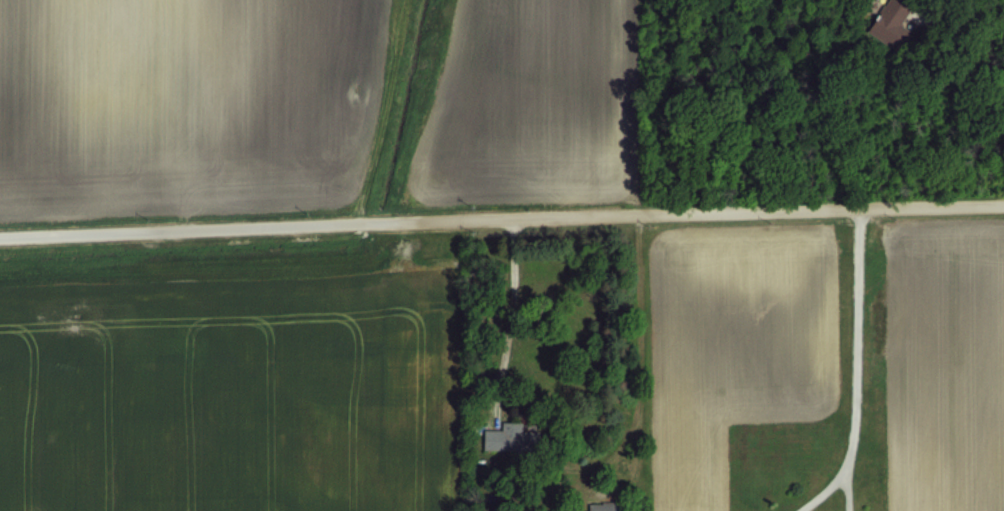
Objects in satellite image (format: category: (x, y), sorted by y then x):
road: (965, 22)
building: (890, 24)
road: (501, 219)
road: (638, 340)
road: (856, 343)
building: (511, 437)
road: (820, 493)
road: (846, 493)
building: (605, 506)

